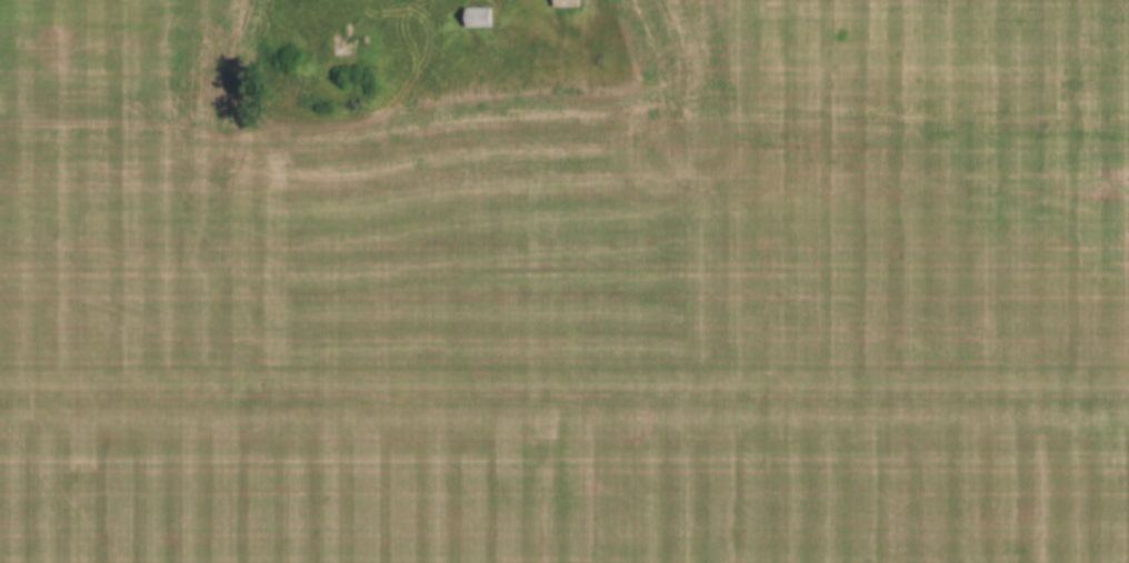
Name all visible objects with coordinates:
building: (571, 3)
building: (481, 18)
road: (569, 103)
road: (1030, 140)

